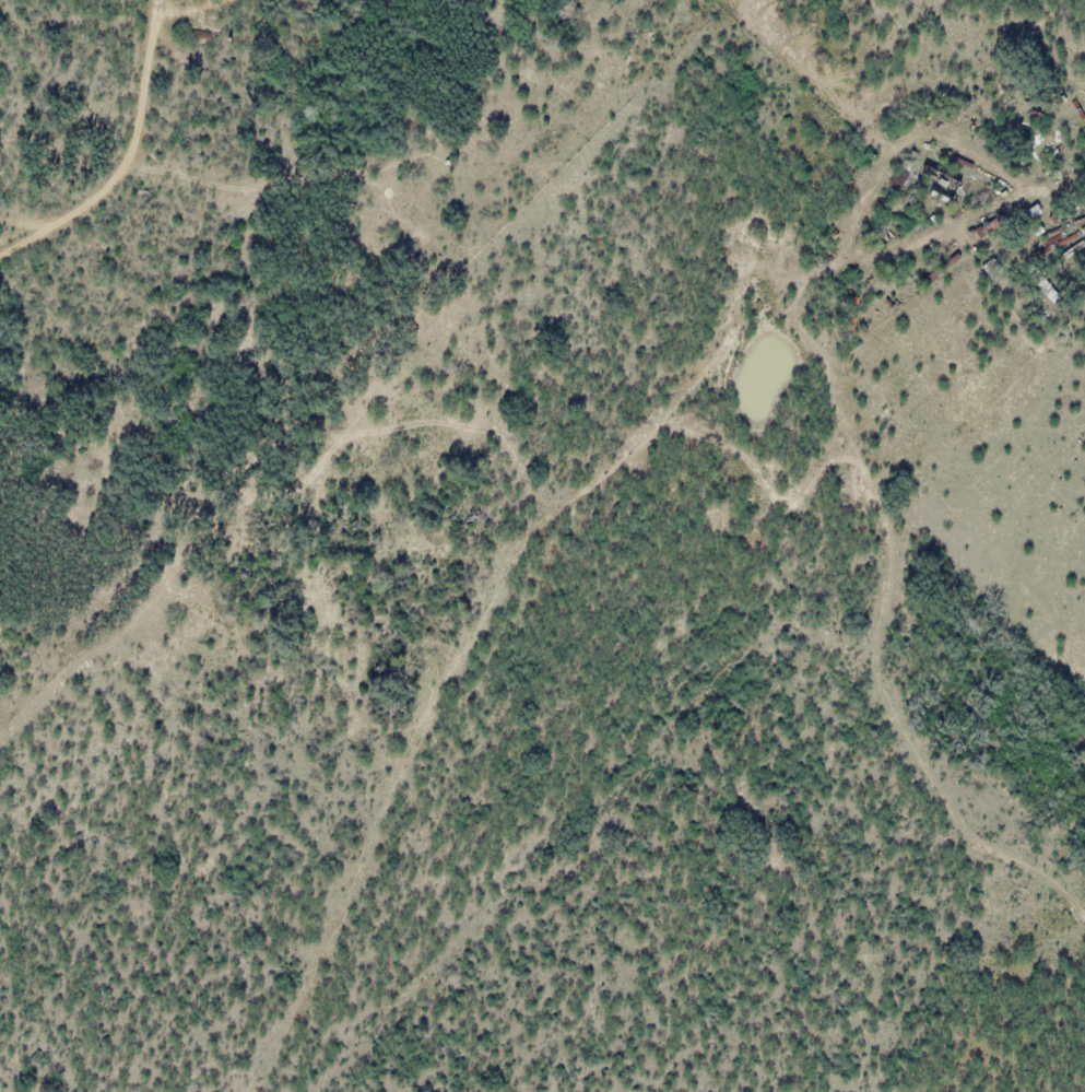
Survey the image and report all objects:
building: (931, 179)
building: (1076, 232)

